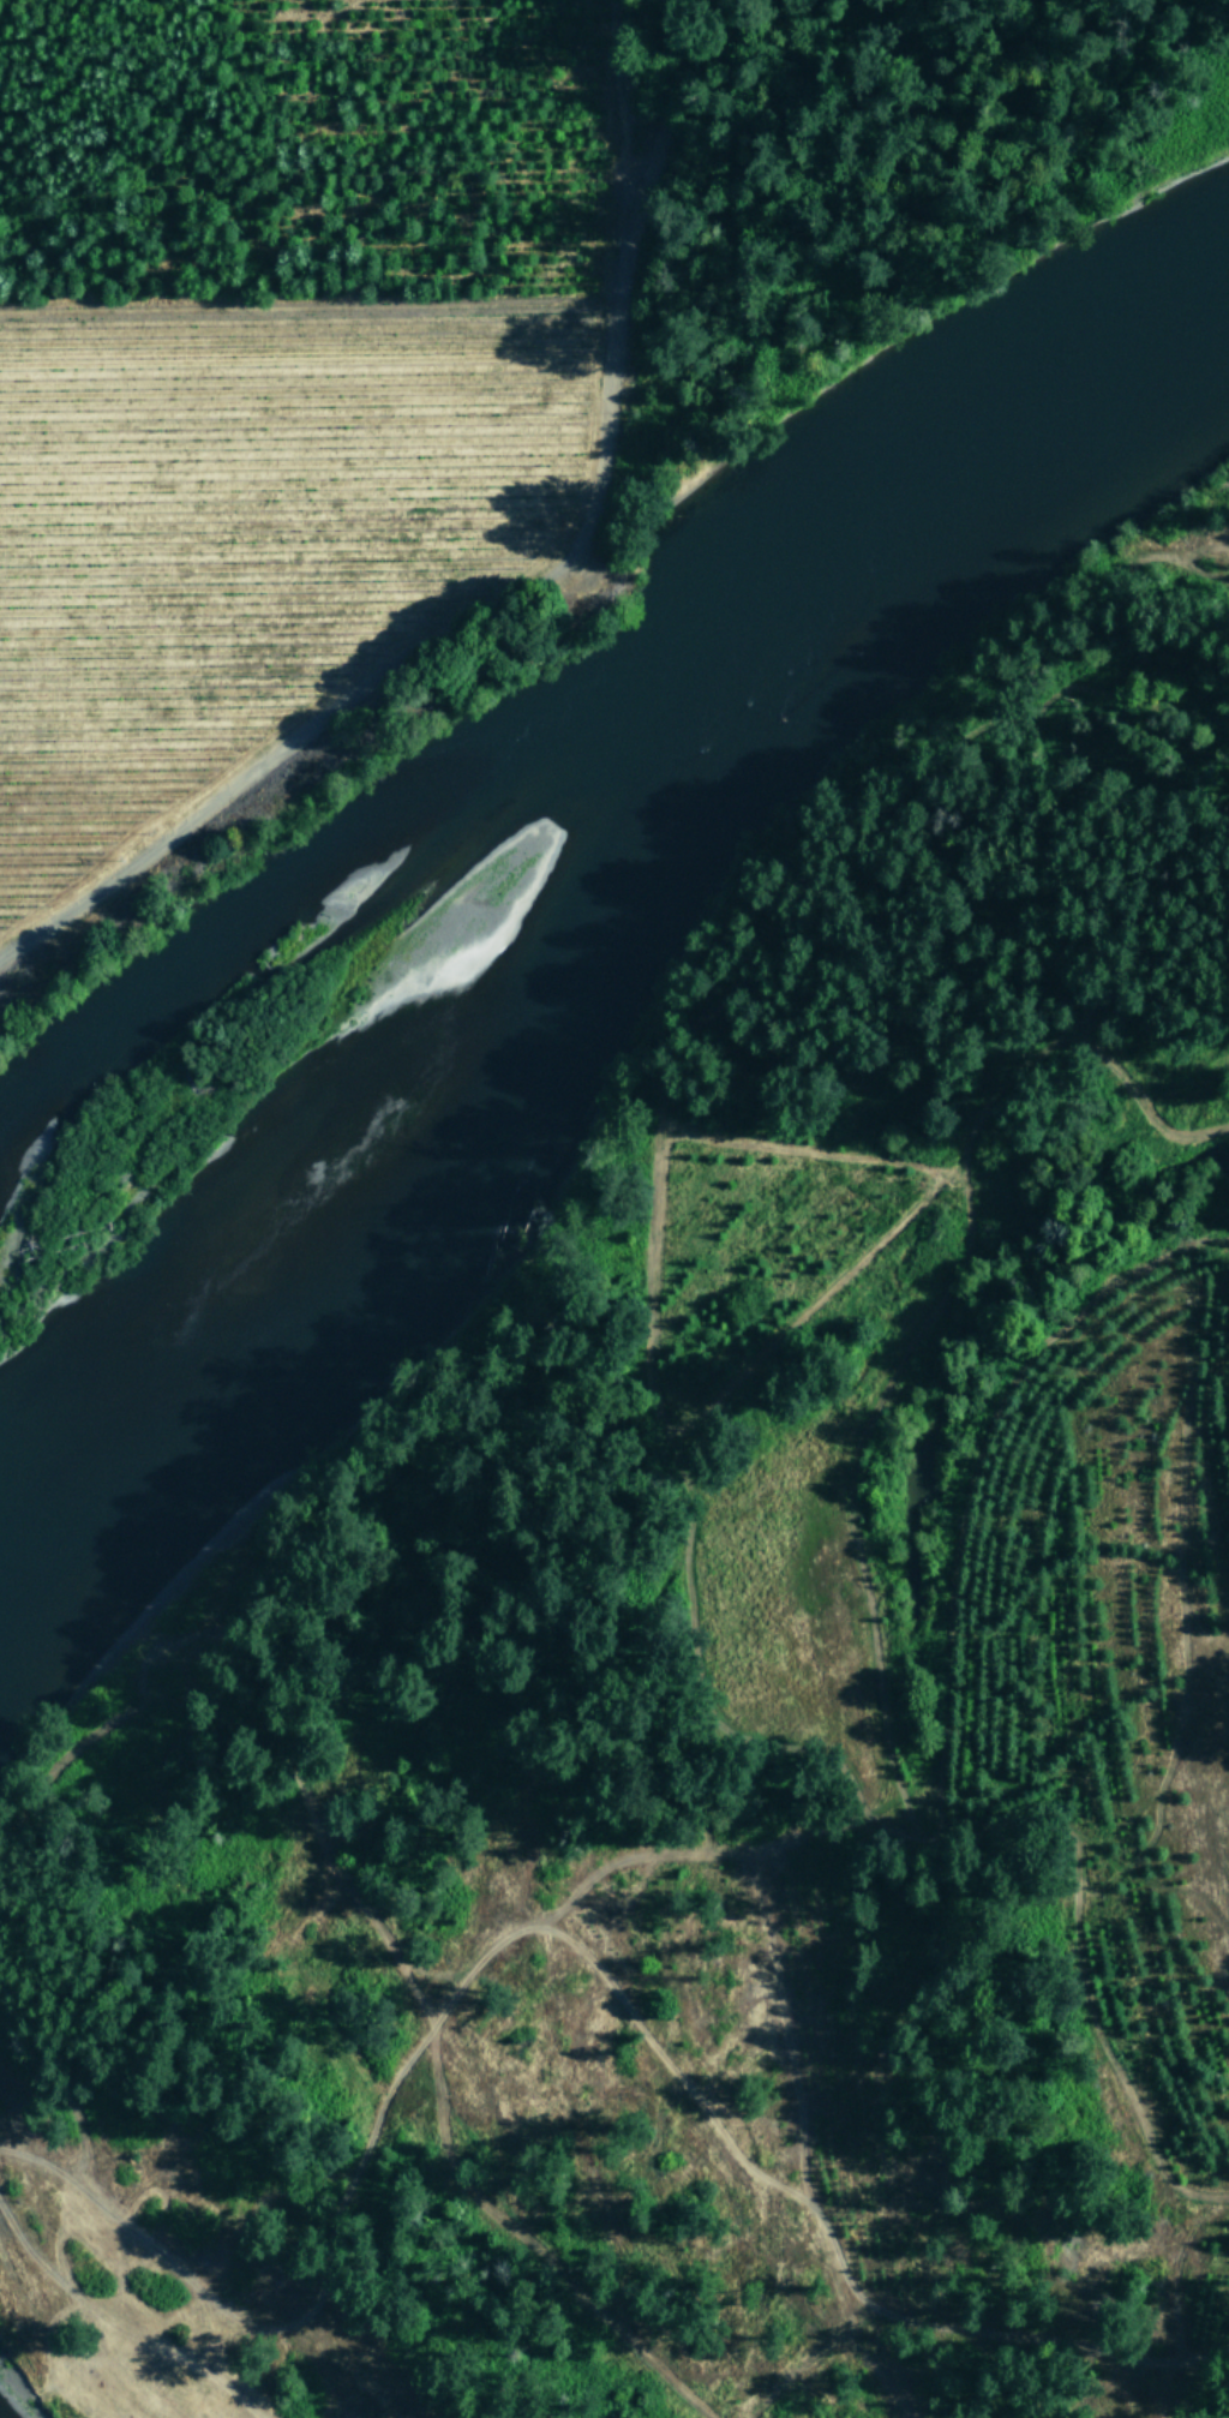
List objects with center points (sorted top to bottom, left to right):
road: (107, 348)
crop: (266, 378)
river: (560, 899)

